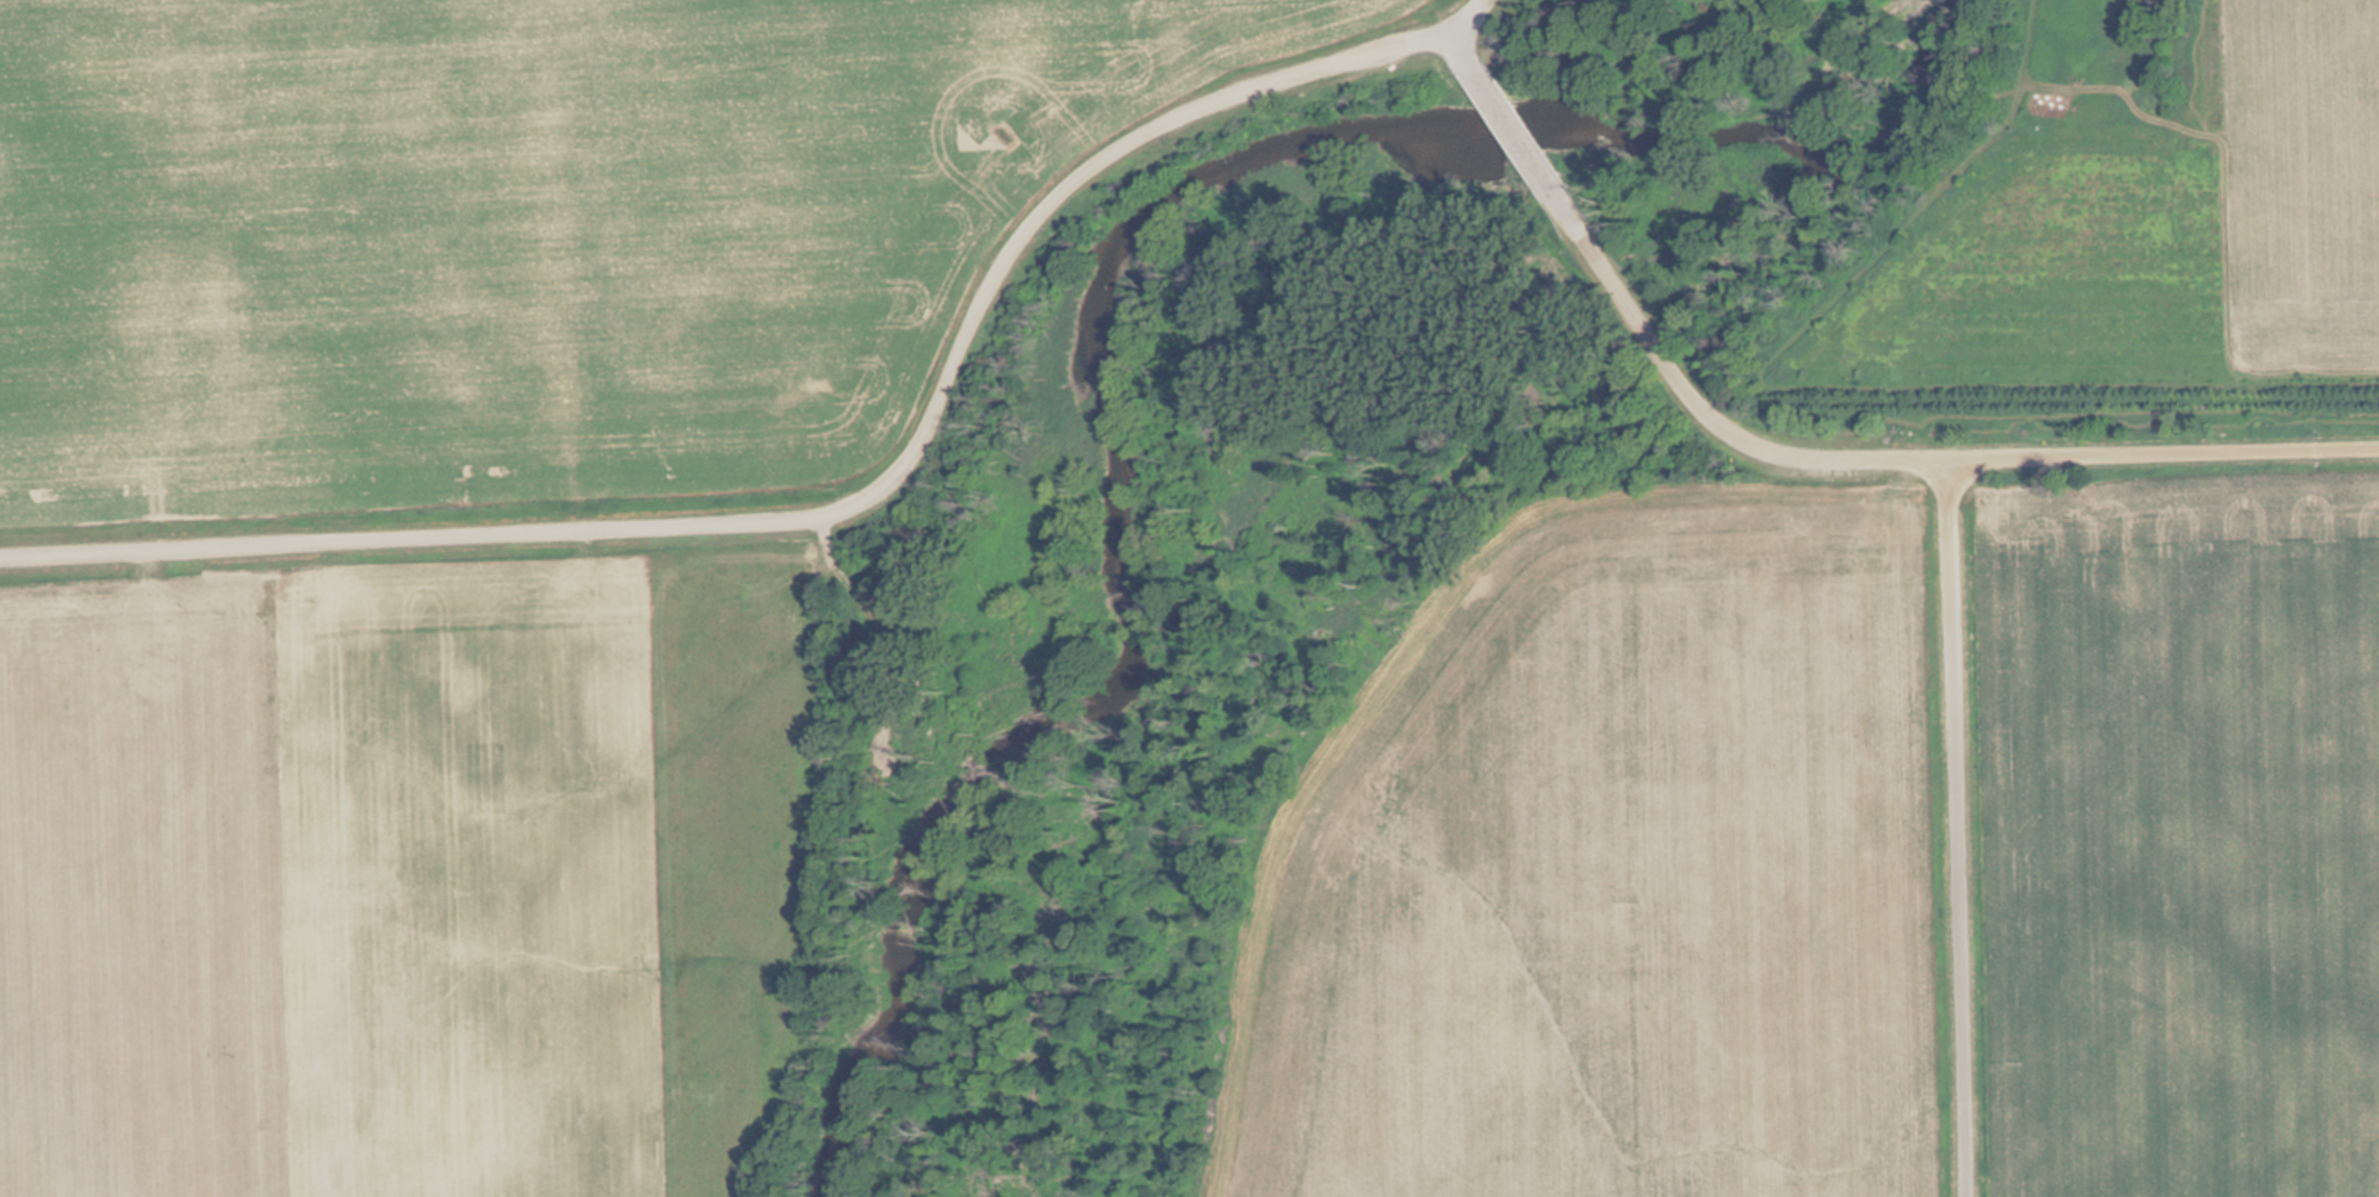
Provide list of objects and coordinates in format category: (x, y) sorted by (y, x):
road: (1479, 14)
road: (1485, 73)
road: (1526, 139)
river: (1097, 274)
road: (1888, 459)
road: (837, 515)
road: (1968, 829)

